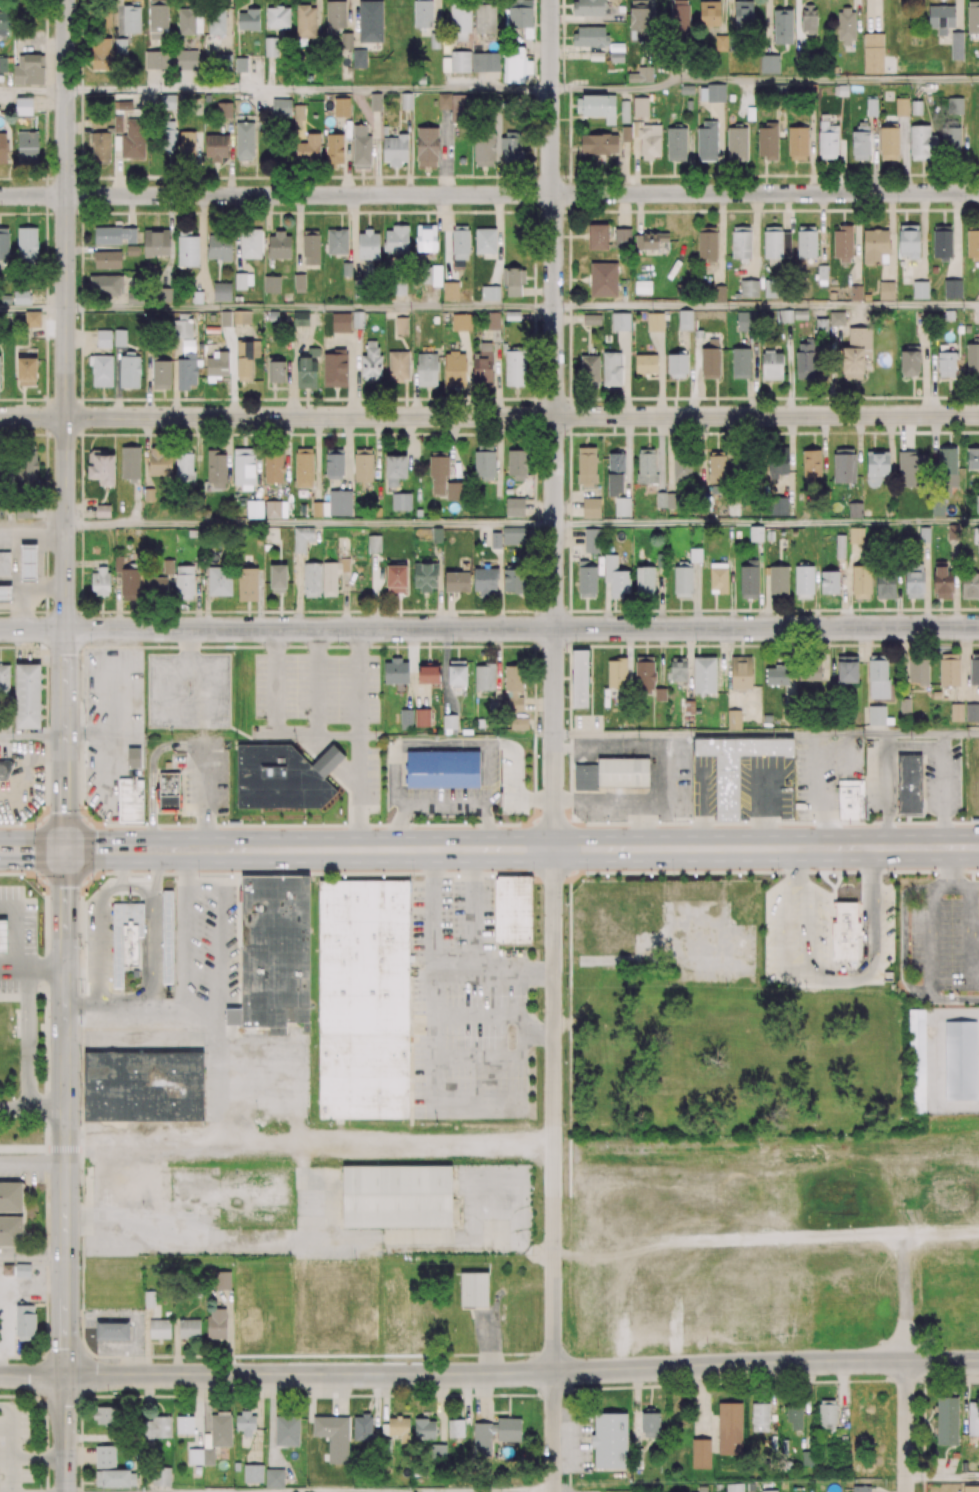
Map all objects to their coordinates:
road: (857, 9)
road: (956, 15)
road: (873, 16)
road: (768, 27)
road: (764, 80)
road: (308, 90)
road: (33, 91)
building: (24, 105)
building: (281, 107)
road: (522, 194)
road: (33, 196)
road: (623, 211)
road: (787, 211)
road: (639, 213)
road: (822, 228)
road: (754, 235)
road: (956, 235)
building: (597, 236)
road: (923, 236)
road: (499, 238)
building: (622, 238)
road: (857, 238)
building: (396, 240)
building: (336, 241)
building: (934, 269)
building: (822, 272)
building: (603, 279)
building: (271, 283)
building: (643, 286)
building: (952, 288)
road: (538, 289)
building: (920, 289)
building: (886, 290)
building: (222, 291)
building: (855, 292)
building: (867, 296)
building: (5, 298)
road: (766, 307)
road: (310, 309)
road: (33, 310)
road: (65, 314)
building: (32, 319)
building: (591, 319)
building: (685, 319)
building: (621, 321)
building: (698, 333)
building: (104, 338)
building: (645, 363)
road: (468, 373)
road: (496, 373)
street lamp: (77, 395)
road: (522, 416)
road: (32, 417)
road: (554, 424)
road: (452, 449)
road: (347, 453)
building: (401, 501)
road: (539, 506)
road: (567, 506)
building: (254, 507)
building: (514, 507)
building: (591, 507)
building: (855, 509)
building: (418, 511)
road: (766, 523)
road: (32, 525)
road: (309, 525)
building: (793, 531)
building: (756, 532)
building: (924, 534)
building: (513, 535)
street lamp: (76, 536)
road: (568, 536)
building: (695, 555)
building: (660, 560)
road: (84, 562)
building: (4, 564)
building: (28, 564)
building: (829, 582)
road: (298, 591)
road: (373, 591)
building: (5, 595)
road: (449, 611)
road: (522, 628)
road: (32, 629)
street lamp: (338, 643)
street lamp: (90, 644)
street lamp: (575, 644)
street lamp: (305, 651)
street lamp: (369, 651)
street lamp: (264, 652)
road: (65, 659)
street lamp: (80, 669)
road: (274, 681)
road: (315, 682)
road: (359, 682)
parking lot: (189, 691)
building: (936, 694)
building: (27, 695)
building: (956, 711)
building: (972, 712)
road: (65, 724)
road: (766, 735)
road: (32, 736)
road: (358, 740)
street lamp: (85, 742)
road: (586, 742)
road: (607, 747)
building: (329, 763)
building: (737, 768)
building: (444, 770)
building: (5, 771)
road: (153, 775)
building: (613, 775)
road: (660, 779)
building: (279, 780)
building: (911, 785)
building: (168, 794)
road: (204, 797)
road: (620, 800)
building: (852, 800)
building: (131, 801)
road: (443, 804)
road: (65, 805)
street lamp: (35, 816)
street lamp: (91, 817)
street lamp: (371, 817)
street lamp: (962, 817)
street lamp: (899, 819)
street lamp: (692, 821)
street lamp: (292, 822)
street lamp: (387, 822)
street lamp: (498, 822)
street lamp: (585, 822)
street lamp: (792, 822)
street lamp: (193, 824)
road: (901, 847)
road: (506, 849)
road: (12, 850)
road: (44, 850)
traffic signals: (65, 850)
road: (84, 850)
road: (146, 850)
road: (950, 864)
road: (120, 867)
street lamp: (521, 870)
street lamp: (751, 874)
street lamp: (99, 875)
street lamp: (444, 875)
street lamp: (638, 875)
street lamp: (857, 875)
street lamp: (198, 876)
street lamp: (337, 876)
building: (23, 881)
road: (947, 882)
street lamp: (38, 884)
road: (136, 888)
building: (514, 908)
road: (65, 909)
road: (472, 911)
road: (152, 930)
road: (16, 932)
building: (846, 932)
building: (123, 934)
building: (168, 937)
building: (3, 938)
road: (219, 938)
parking lot: (17, 941)
road: (97, 941)
building: (134, 943)
building: (276, 954)
building: (364, 958)
road: (32, 968)
road: (492, 973)
road: (952, 1000)
road: (184, 1005)
road: (125, 1012)
road: (497, 1015)
road: (431, 1021)
road: (27, 1037)
road: (297, 1056)
road: (486, 1056)
building: (962, 1062)
building: (917, 1063)
building: (365, 1078)
building: (145, 1089)
road: (32, 1106)
road: (554, 1110)
street lamp: (80, 1124)
road: (65, 1127)
road: (309, 1140)
road: (32, 1143)
road: (32, 1164)
road: (309, 1240)
road: (32, 1259)
road: (1, 1286)
road: (11, 1287)
road: (904, 1296)
road: (132, 1314)
road: (65, 1330)
street lamp: (80, 1330)
road: (522, 1373)
road: (32, 1375)
street lamp: (232, 1391)
road: (223, 1395)
road: (906, 1426)
street lamp: (76, 1428)
road: (554, 1432)
road: (65, 1433)
road: (942, 1477)

